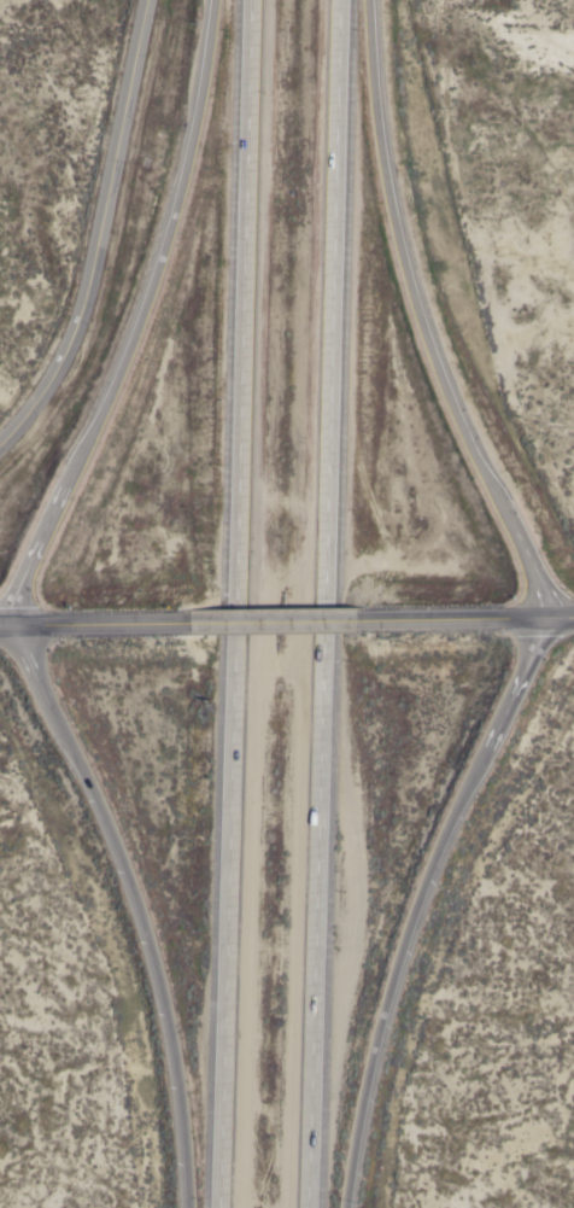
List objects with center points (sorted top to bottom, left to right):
road: (99, 233)
road: (421, 320)
road: (140, 321)
road: (234, 603)
road: (322, 603)
road: (560, 618)
road: (453, 620)
road: (279, 621)
road: (98, 624)
road: (420, 904)
road: (134, 908)

